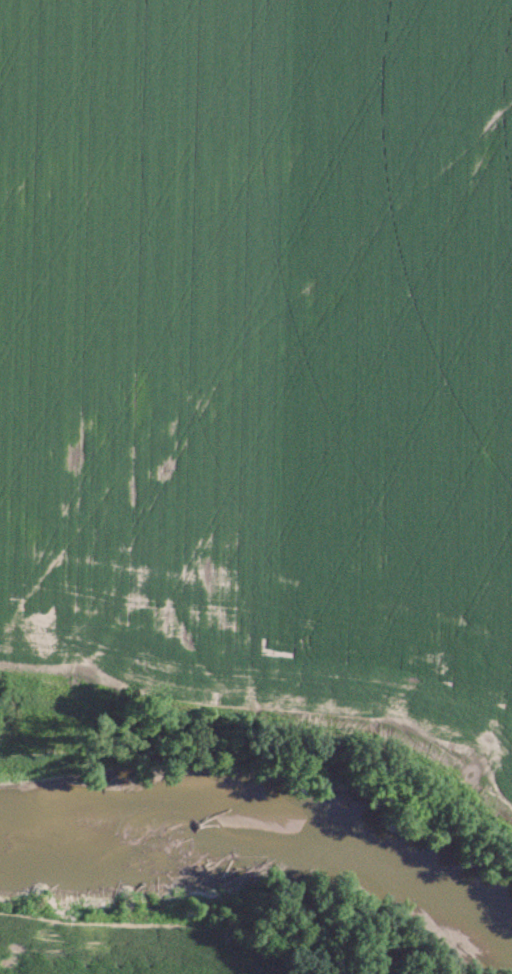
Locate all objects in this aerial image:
river: (282, 806)

